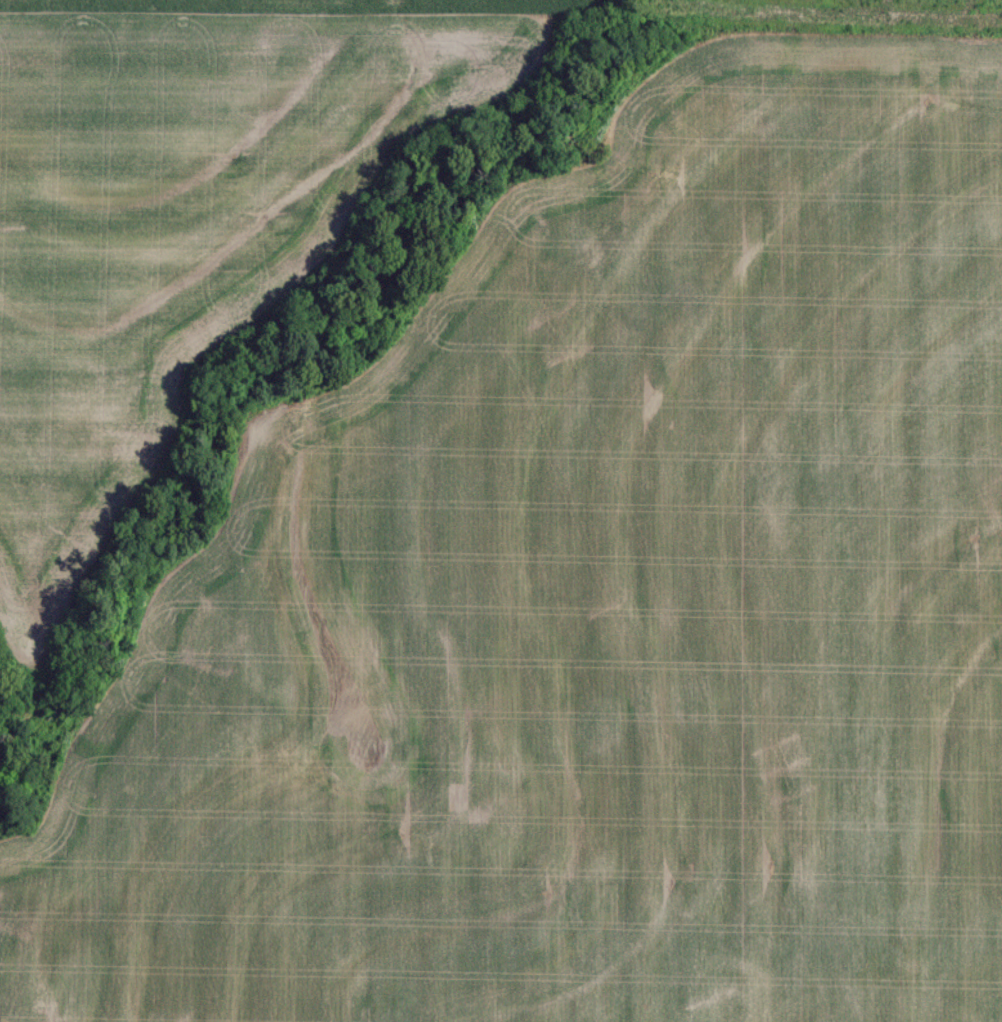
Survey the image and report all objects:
crop: (318, 7)
crop: (179, 234)
crop: (595, 607)

